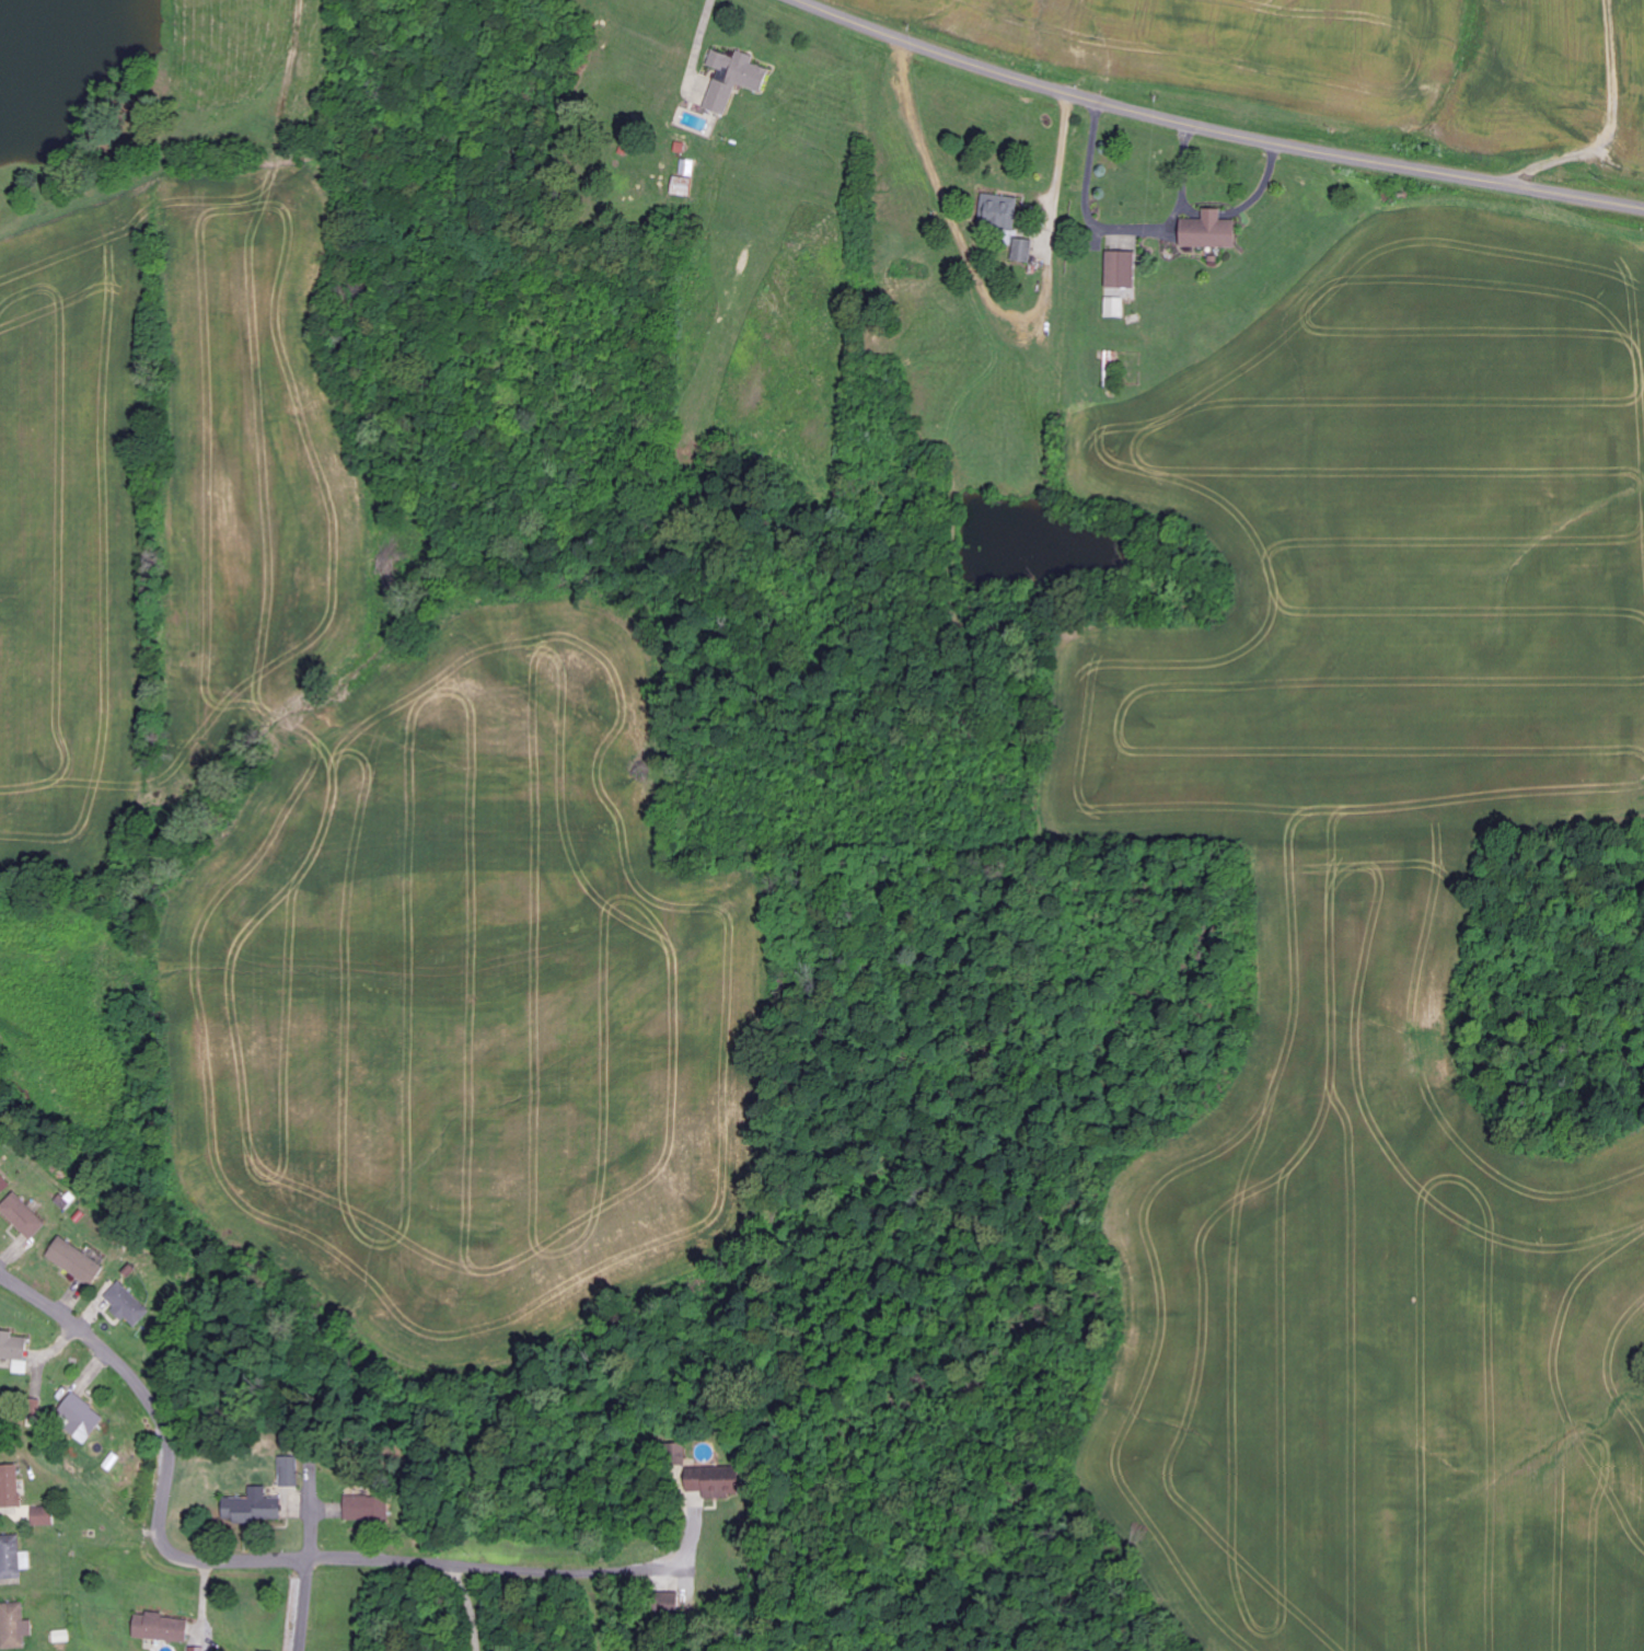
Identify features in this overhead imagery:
crop: (1358, 60)
building: (733, 79)
road: (1214, 129)
building: (684, 185)
building: (999, 212)
building: (1209, 231)
building: (1021, 251)
building: (1121, 269)
building: (1114, 308)
building: (1, 1165)
building: (1, 1185)
building: (23, 1216)
building: (77, 1262)
building: (129, 1302)
building: (13, 1348)
building: (81, 1419)
road: (172, 1441)
building: (288, 1471)
building: (725, 1485)
building: (10, 1487)
building: (252, 1508)
building: (368, 1510)
building: (44, 1517)
building: (12, 1559)
road: (497, 1567)
road: (305, 1605)
building: (670, 1605)
building: (14, 1627)
building: (160, 1628)
building: (196, 1649)

